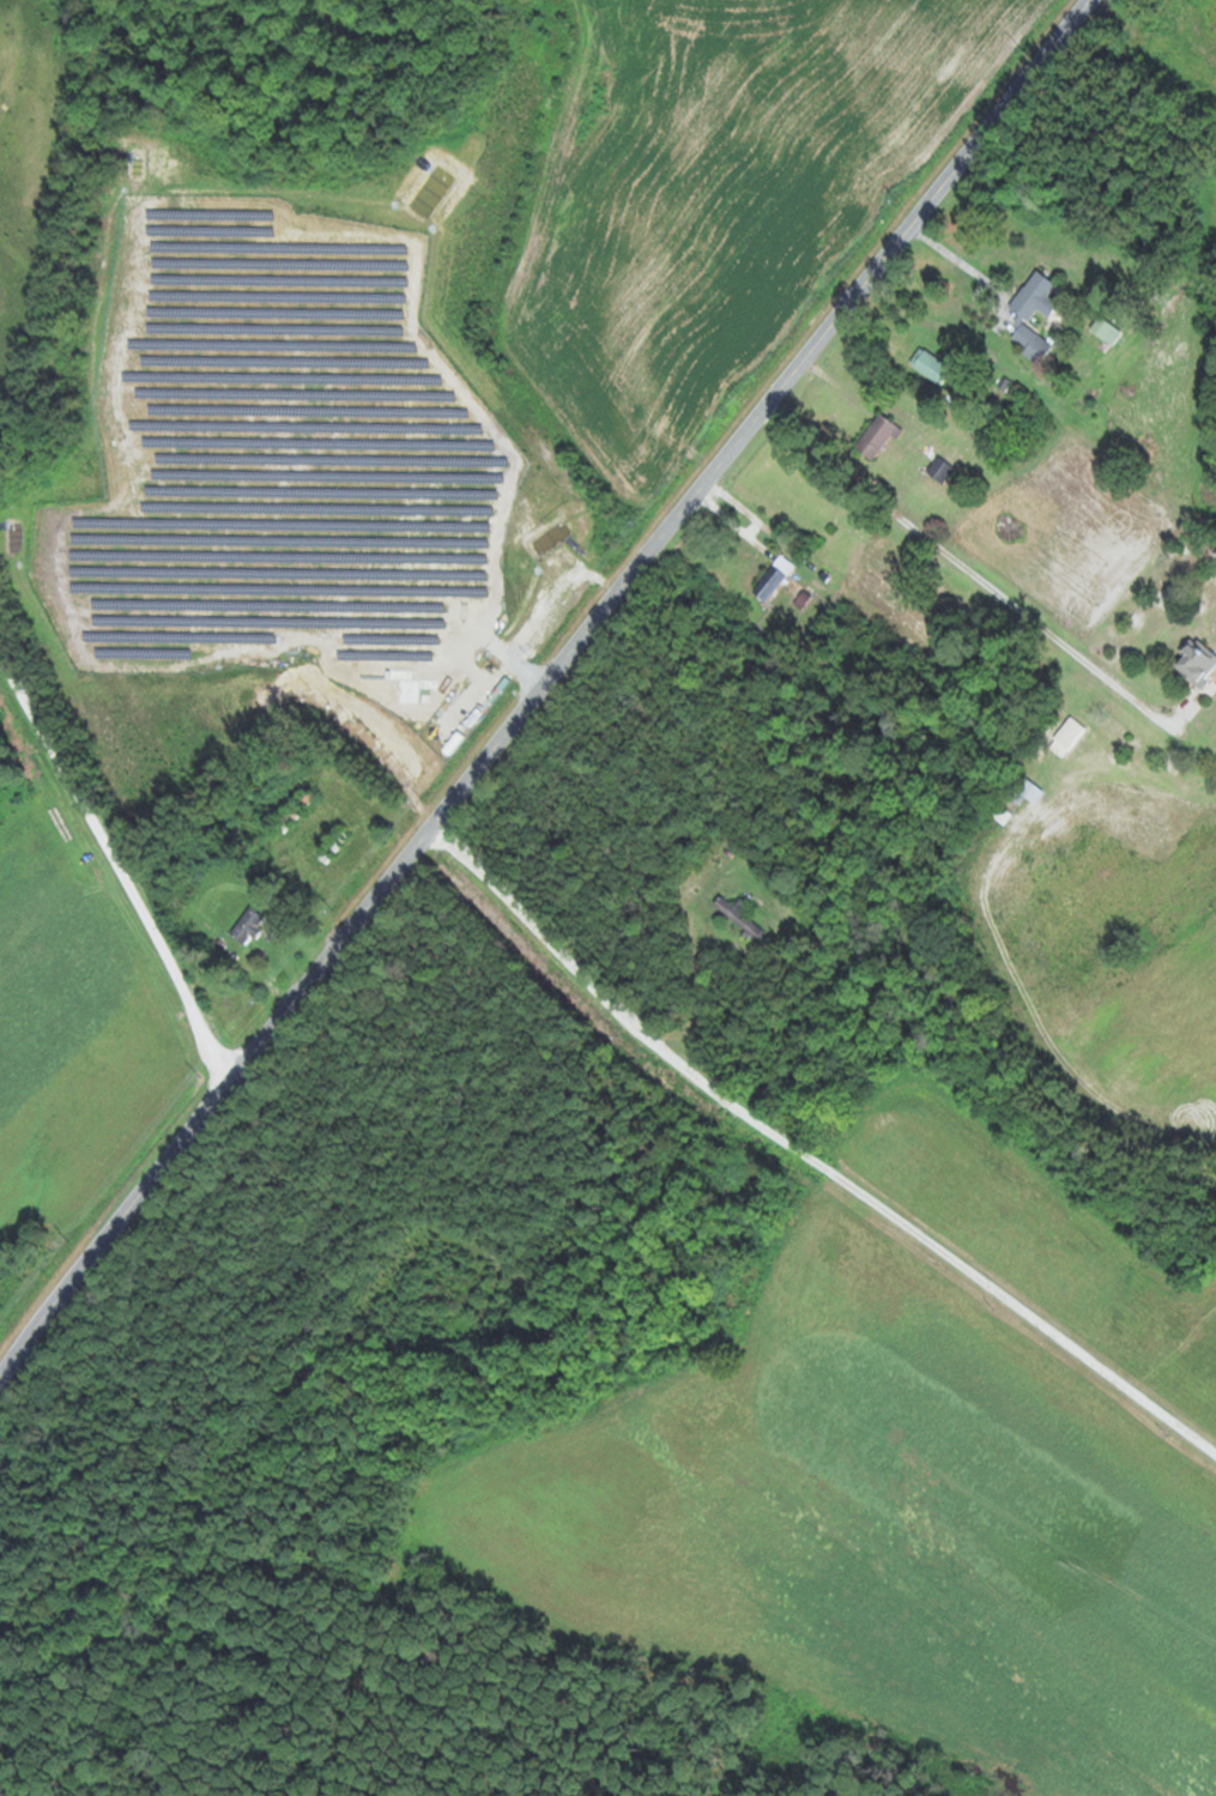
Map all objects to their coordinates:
building: (1030, 315)
building: (1105, 329)
building: (928, 365)
road: (1049, 373)
building: (872, 439)
road: (949, 548)
building: (767, 582)
building: (1194, 661)
road: (540, 688)
building: (1065, 737)
building: (294, 811)
building: (332, 846)
road: (131, 854)
building: (738, 915)
building: (246, 926)
road: (810, 1154)

